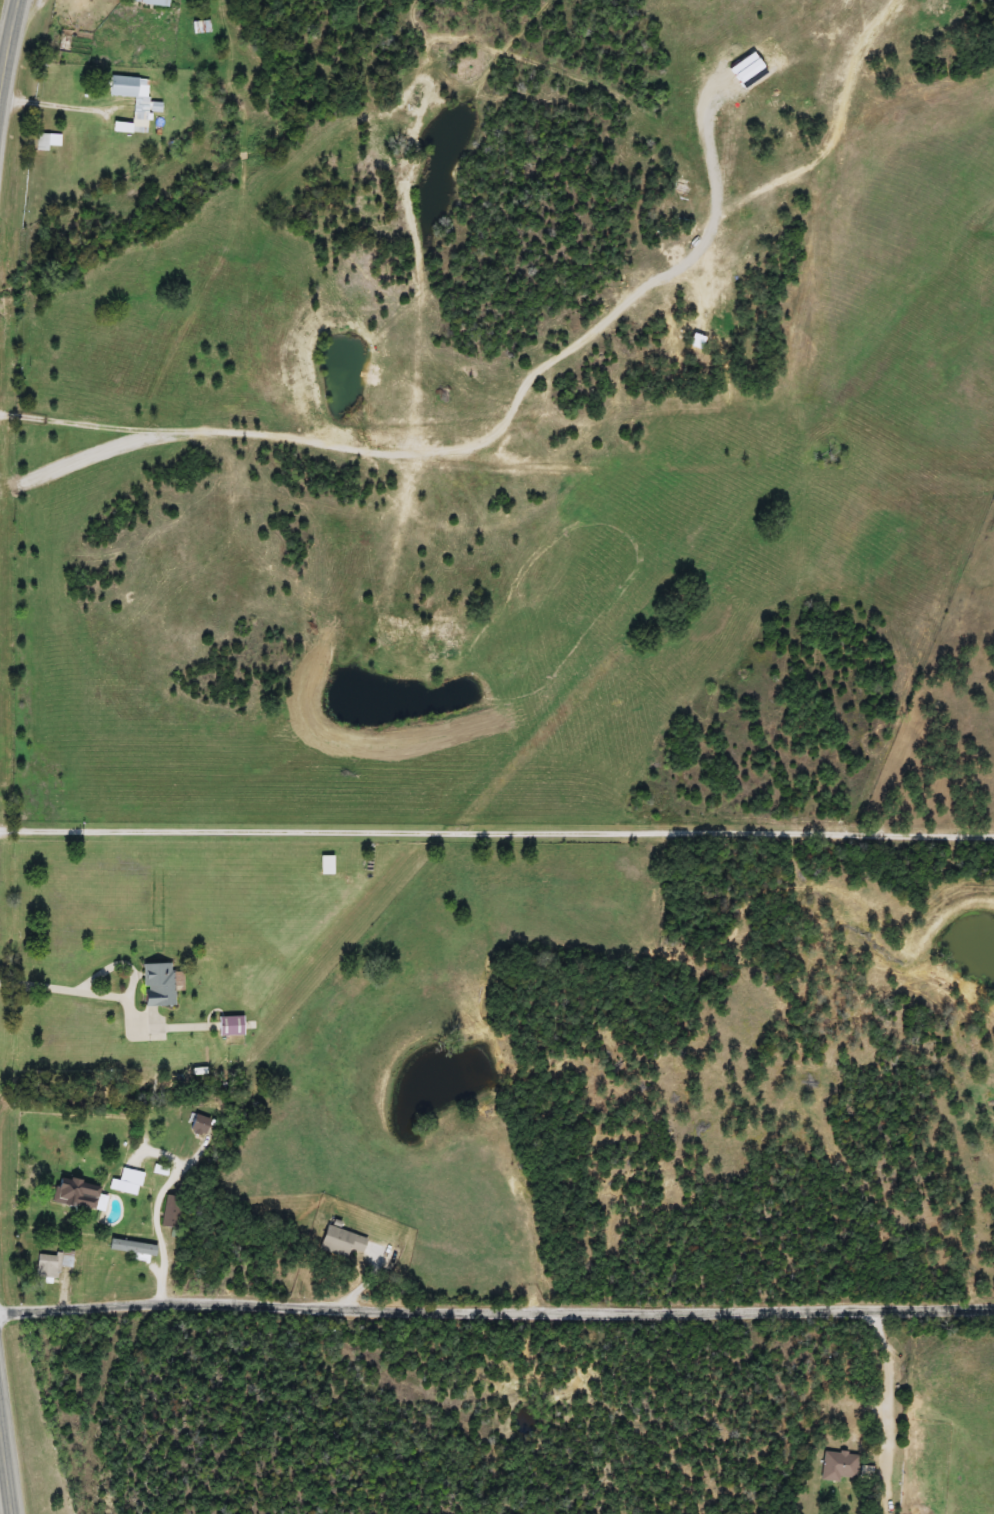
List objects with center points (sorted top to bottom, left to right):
building: (150, 2)
road: (7, 45)
building: (132, 102)
road: (64, 103)
building: (46, 141)
railway: (448, 817)
building: (324, 865)
road: (133, 975)
building: (156, 984)
road: (38, 987)
building: (229, 1028)
building: (198, 1125)
building: (126, 1182)
building: (76, 1194)
building: (171, 1212)
building: (339, 1242)
building: (130, 1247)
building: (52, 1263)
road: (496, 1302)
road: (889, 1378)
building: (837, 1466)
road: (5, 1468)

